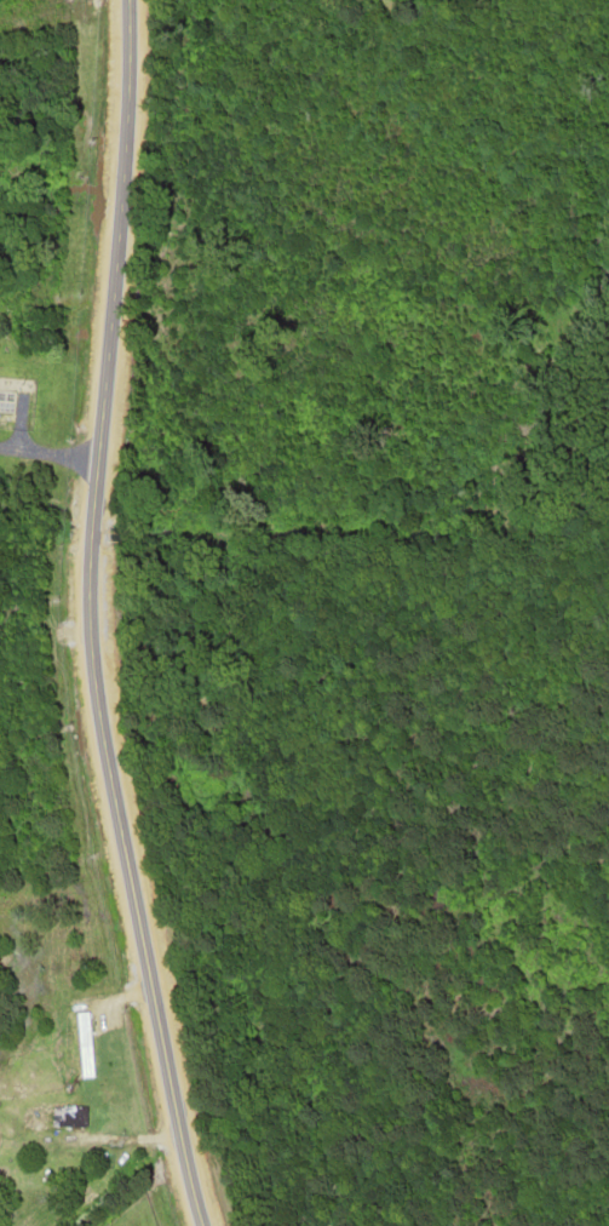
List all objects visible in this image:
road: (110, 258)
building: (4, 403)
road: (85, 534)
road: (126, 892)
building: (65, 1116)

